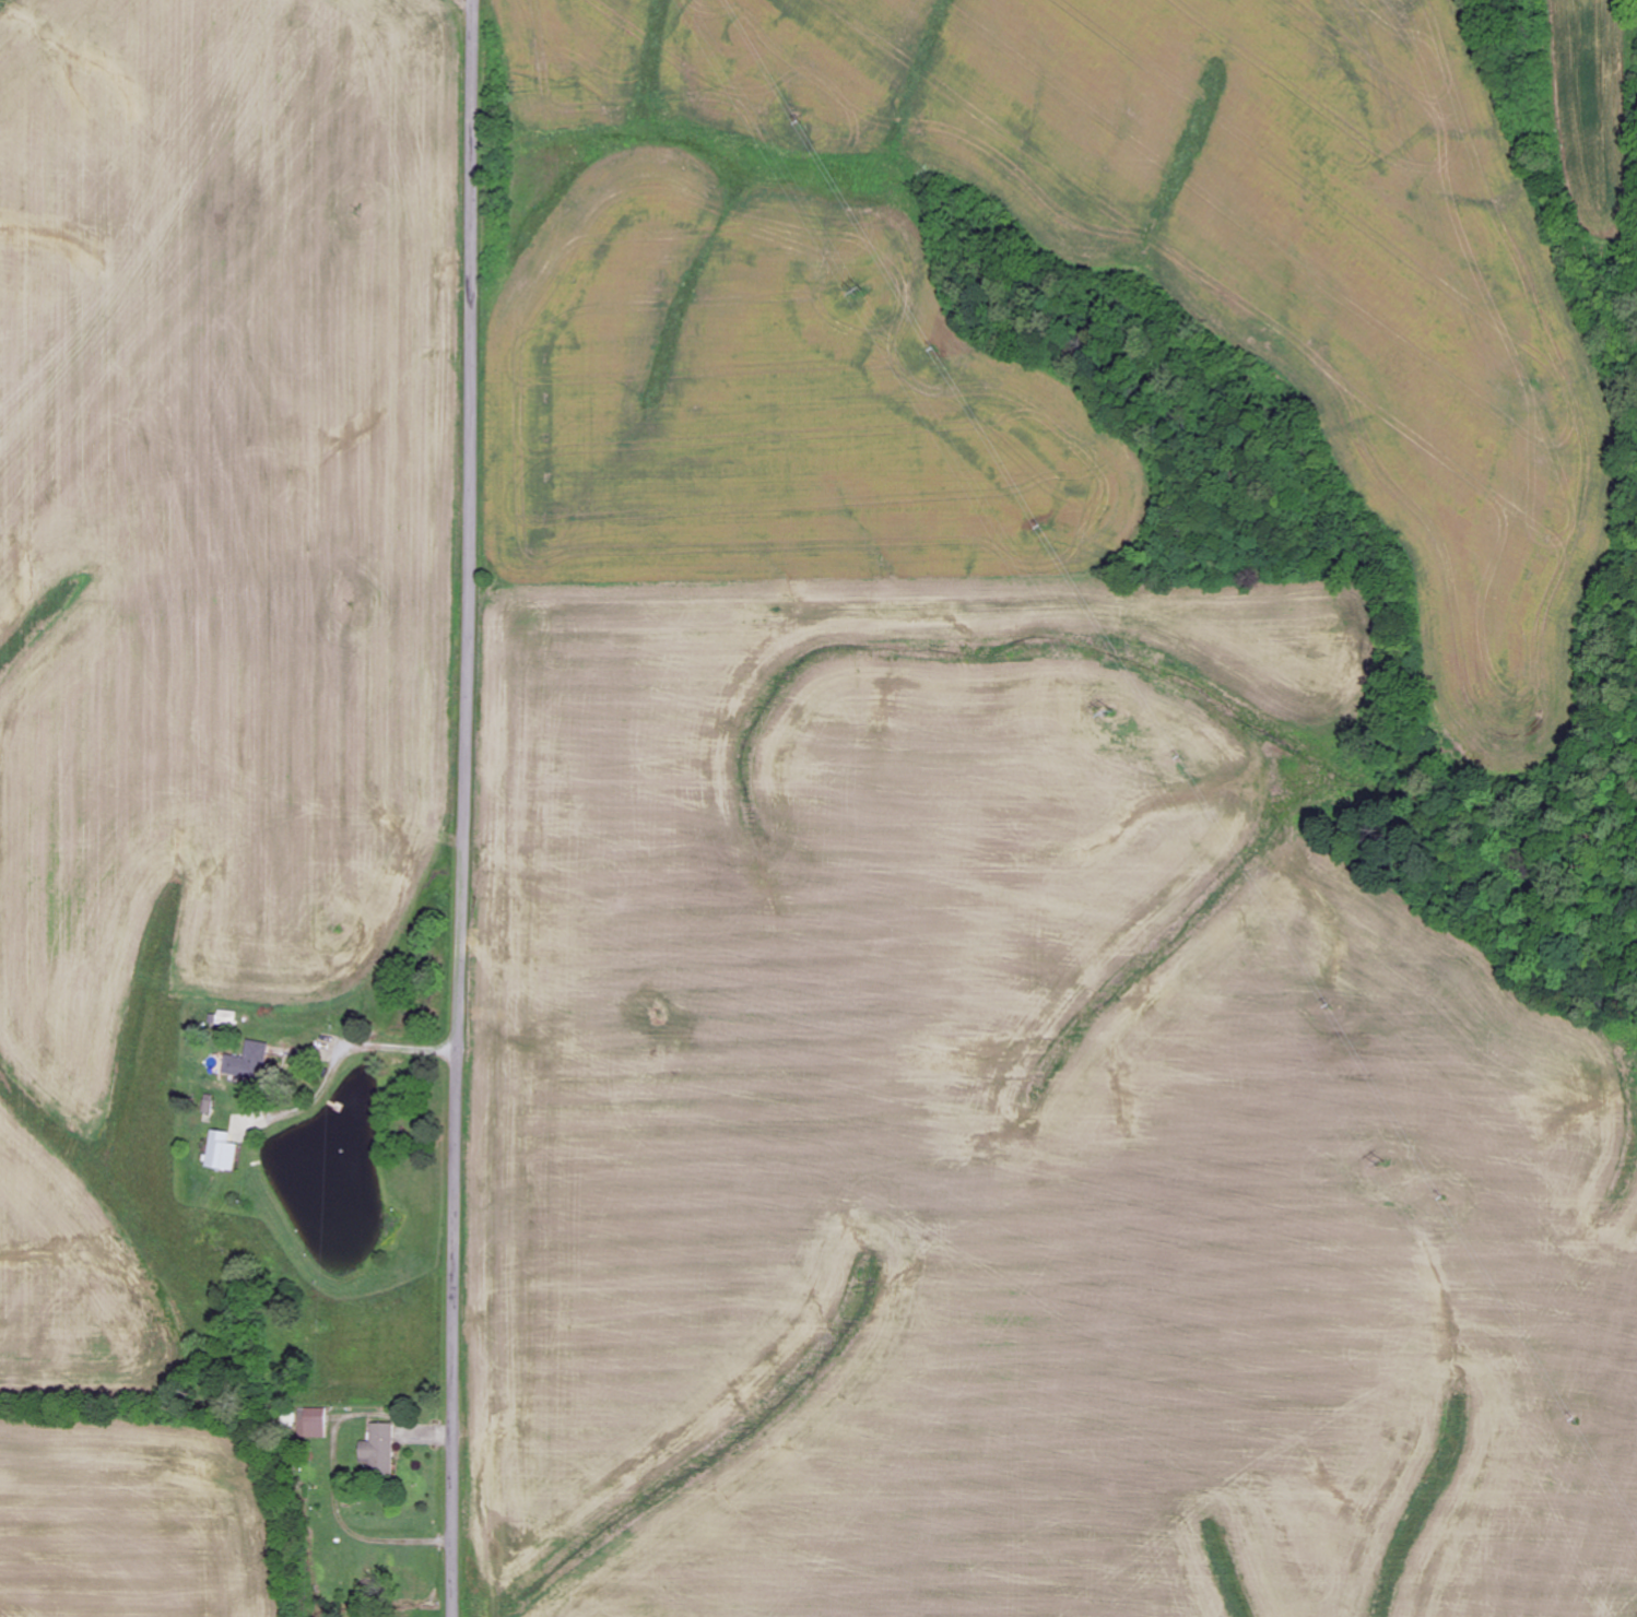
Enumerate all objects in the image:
road: (466, 809)
building: (224, 1018)
building: (247, 1062)
building: (221, 1152)
building: (311, 1421)
building: (378, 1449)

